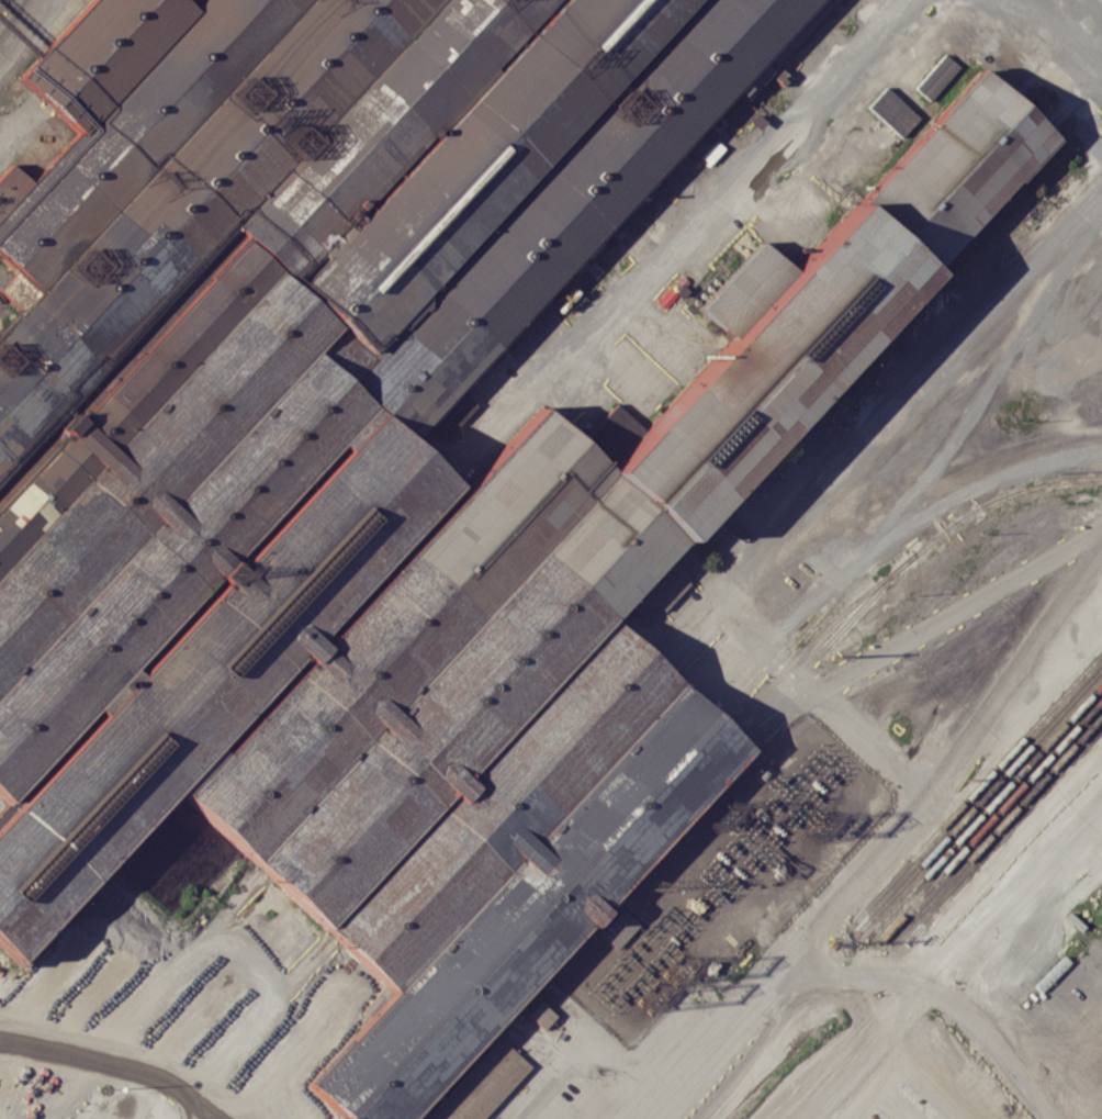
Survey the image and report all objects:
road: (11, 20)
road: (1062, 38)
building: (935, 77)
building: (892, 111)
road: (784, 138)
parking lot: (578, 368)
building: (386, 466)
railway: (976, 510)
railway: (818, 634)
railway: (809, 664)
railway: (1045, 728)
railway: (1066, 751)
railway: (977, 786)
railway: (983, 810)
railway: (990, 819)
railway: (1005, 832)
railway: (923, 861)
railway: (957, 870)
road: (842, 891)
road: (201, 950)
railway: (962, 976)
building: (540, 1015)
railway: (967, 1023)
road: (1076, 1078)

